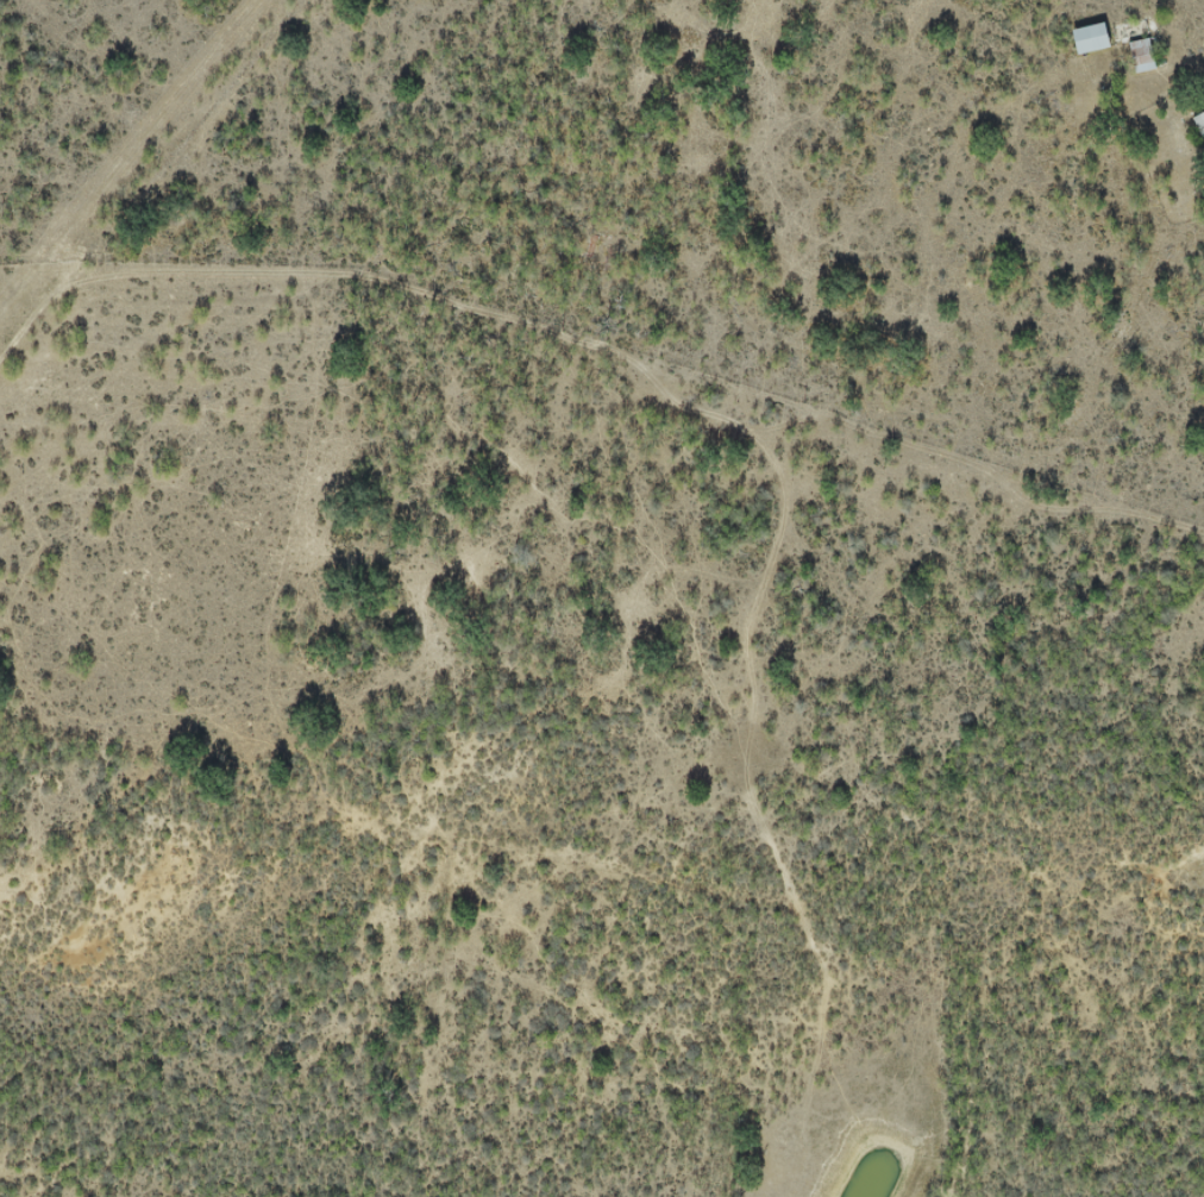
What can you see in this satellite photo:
building: (1133, 31)
building: (1090, 38)
building: (1143, 56)
building: (1199, 124)

